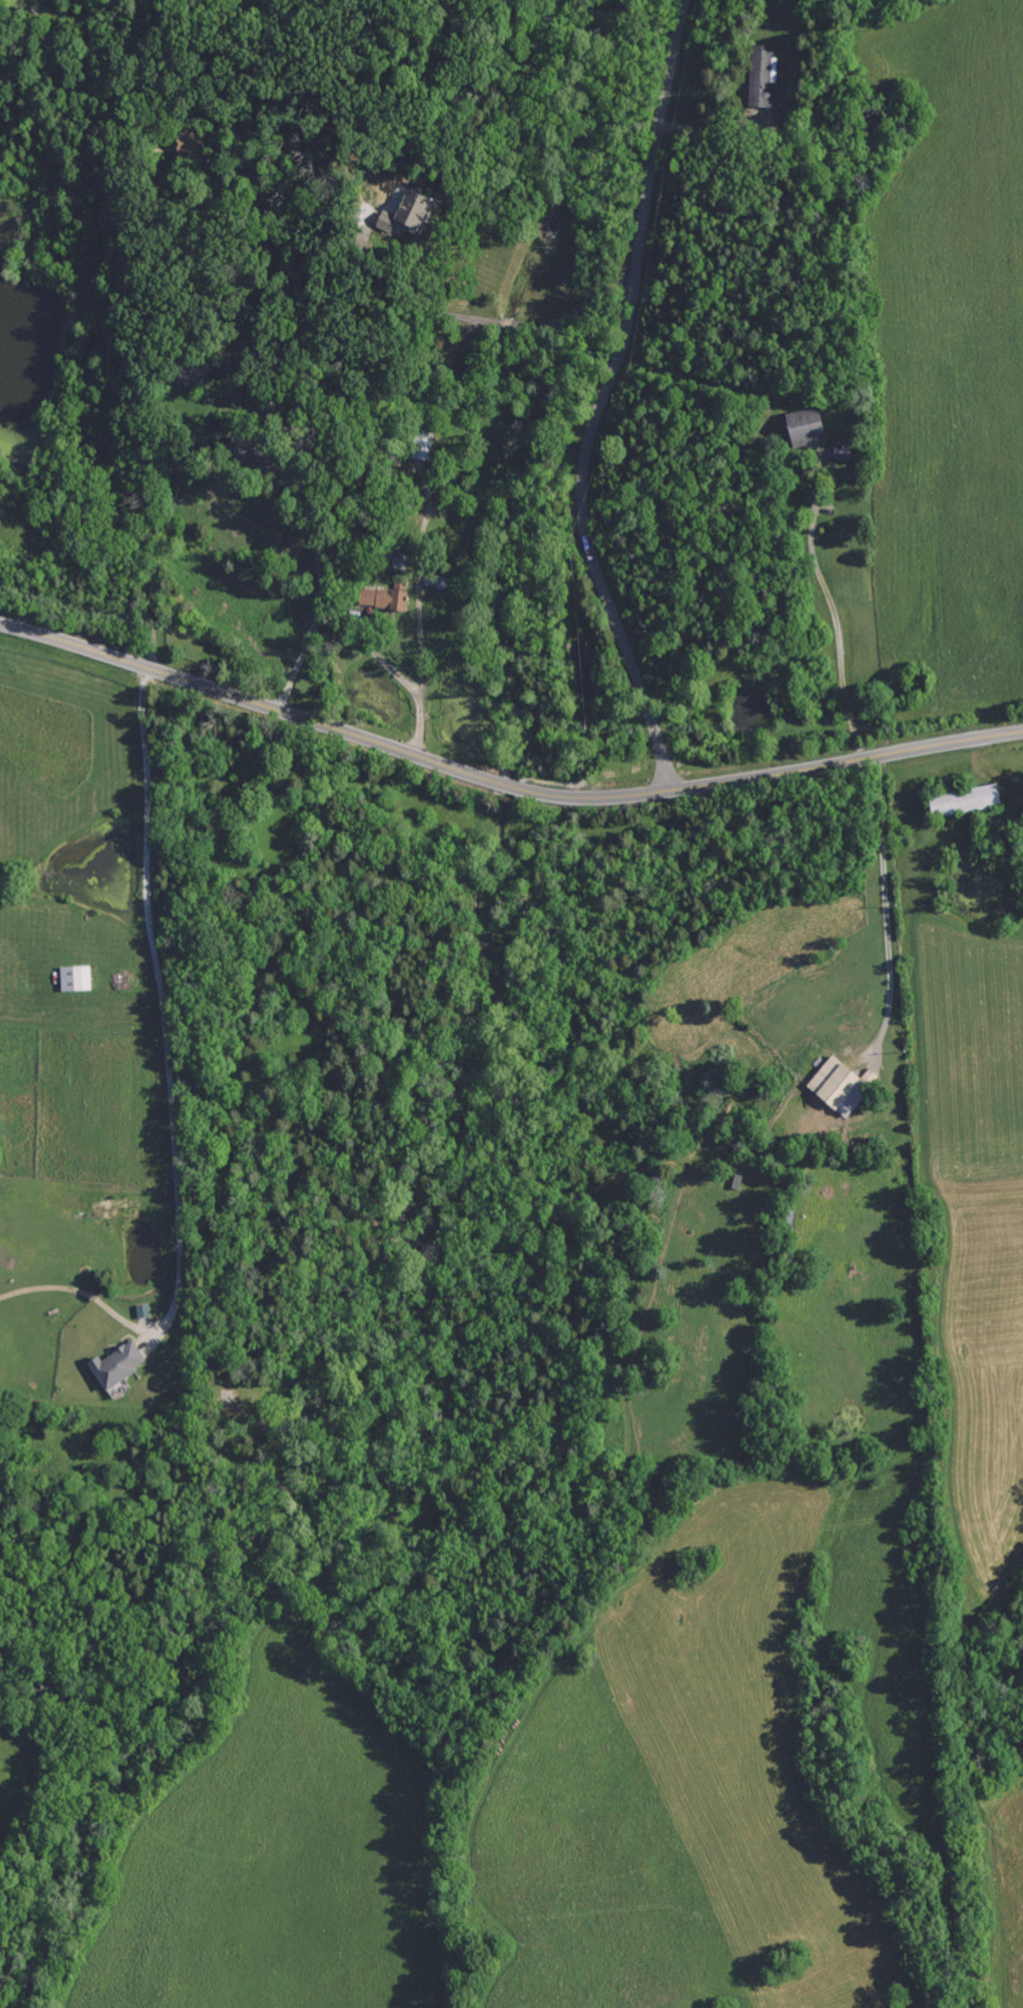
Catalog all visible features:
building: (757, 78)
road: (713, 129)
building: (399, 211)
road: (130, 220)
road: (147, 284)
road: (414, 306)
road: (579, 308)
road: (505, 323)
building: (189, 370)
road: (605, 399)
building: (799, 427)
building: (420, 445)
building: (379, 597)
road: (419, 597)
road: (832, 610)
road: (311, 619)
road: (408, 682)
road: (502, 781)
building: (957, 801)
road: (886, 907)
building: (71, 979)
road: (159, 996)
building: (832, 1087)
building: (139, 1311)
building: (110, 1364)

